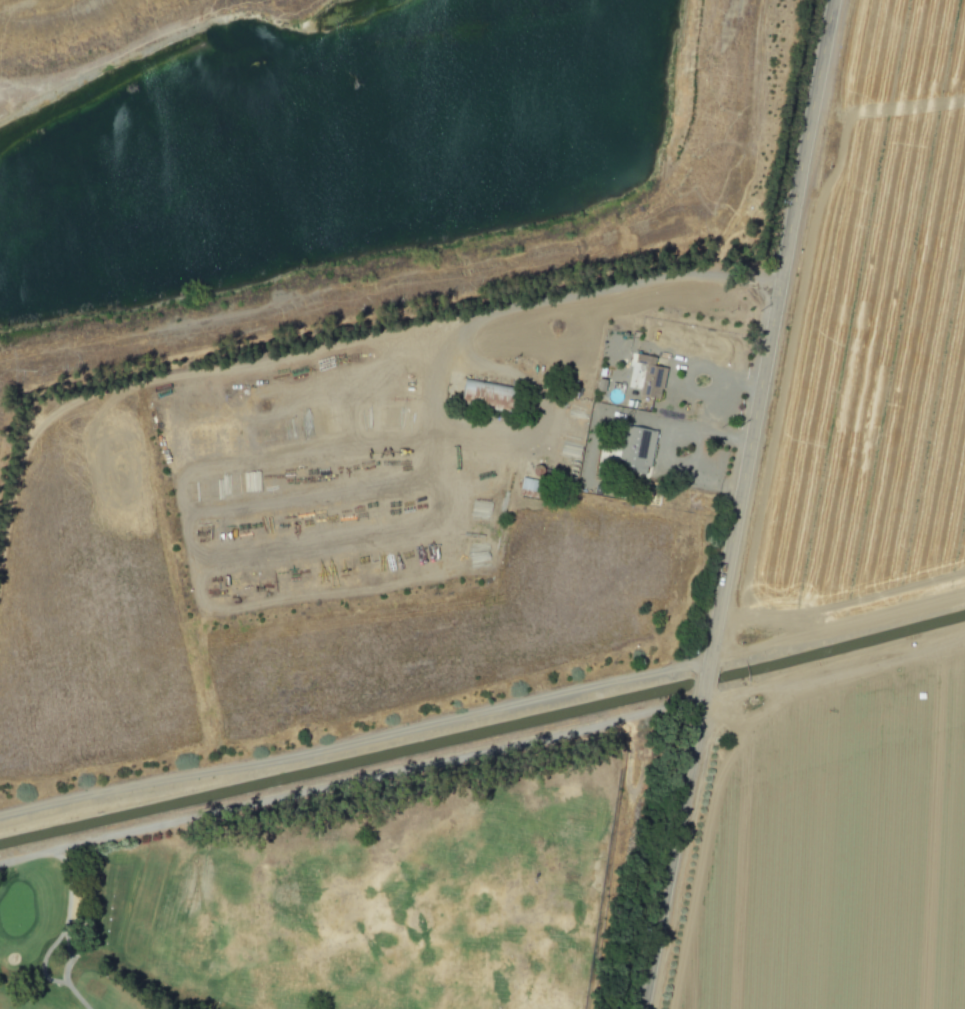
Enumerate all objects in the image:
road: (770, 333)
road: (459, 339)
building: (648, 377)
building: (479, 393)
road: (717, 401)
road: (679, 421)
building: (634, 450)
road: (664, 455)
road: (693, 472)
road: (704, 686)
road: (350, 787)
road: (670, 858)
park: (335, 903)

